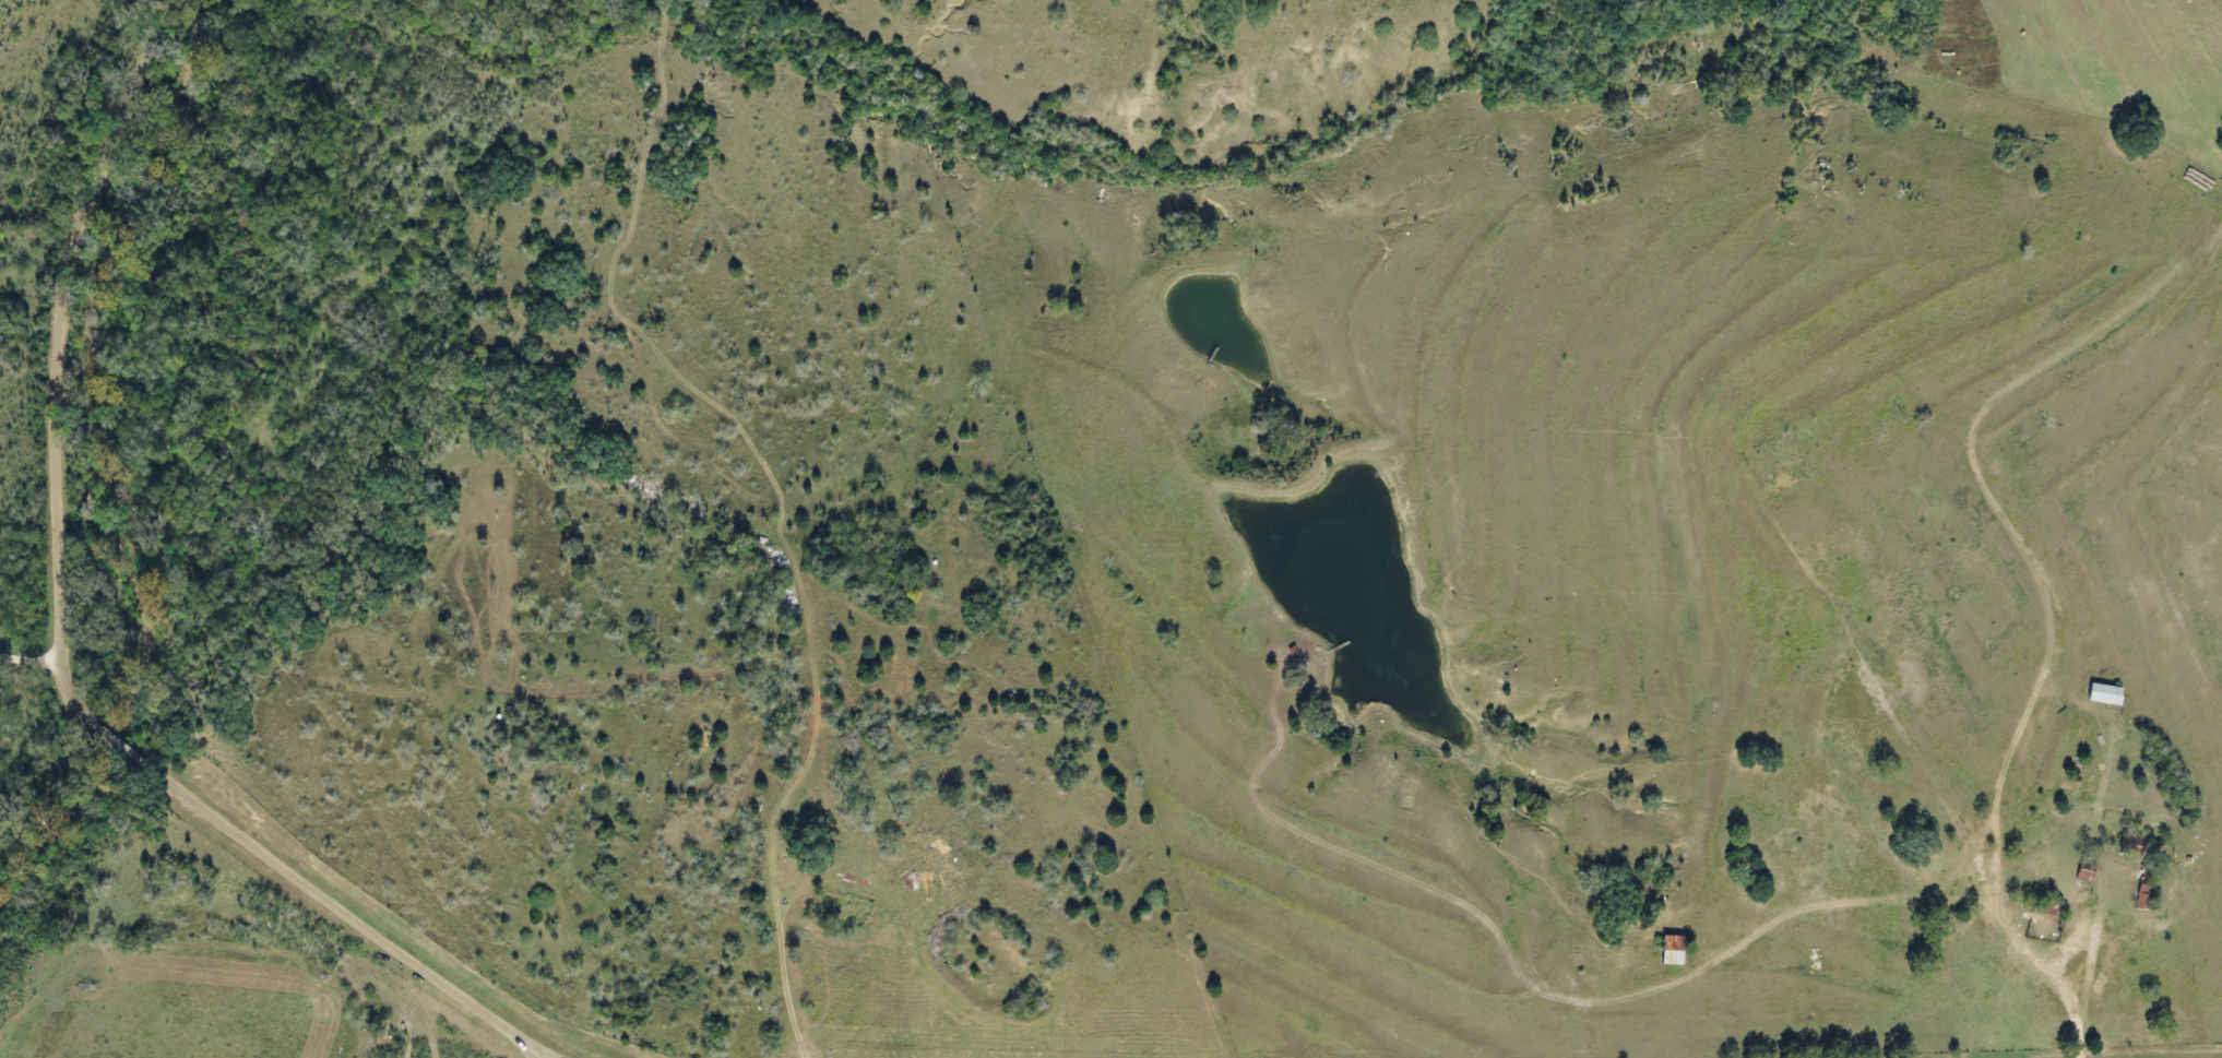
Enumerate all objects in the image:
road: (67, 650)
road: (34, 658)
building: (2105, 692)
building: (2134, 844)
building: (2086, 870)
building: (1673, 949)
road: (573, 1057)

